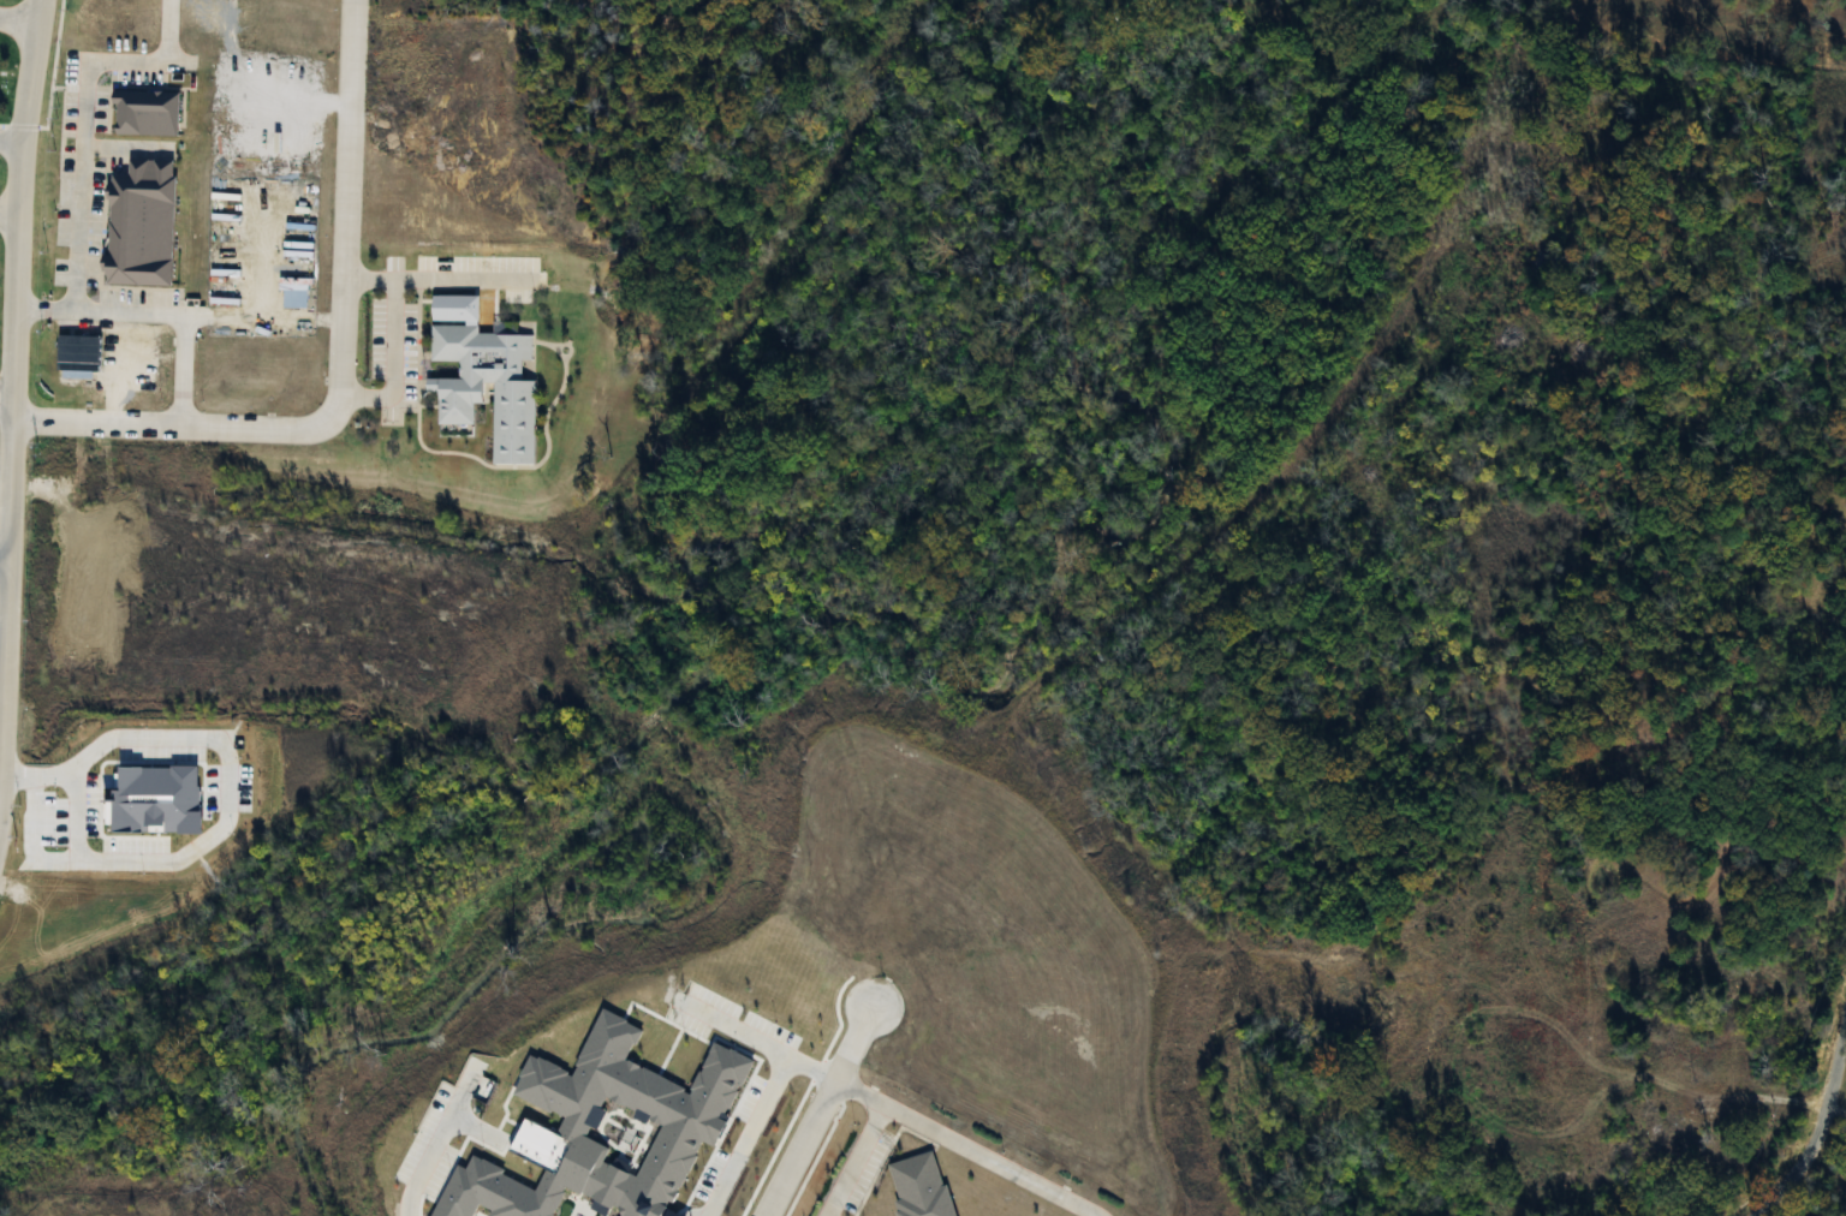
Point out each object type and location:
road: (17, 23)
building: (143, 113)
road: (8, 214)
building: (139, 225)
road: (73, 231)
road: (452, 281)
road: (260, 308)
road: (41, 310)
road: (391, 340)
building: (77, 353)
road: (338, 371)
building: (486, 376)
road: (11, 391)
road: (5, 399)
road: (2, 556)
road: (889, 1101)
road: (816, 1107)
road: (1835, 1110)
road: (1820, 1131)
road: (744, 1133)
road: (437, 1139)
road: (847, 1155)
road: (829, 1208)

